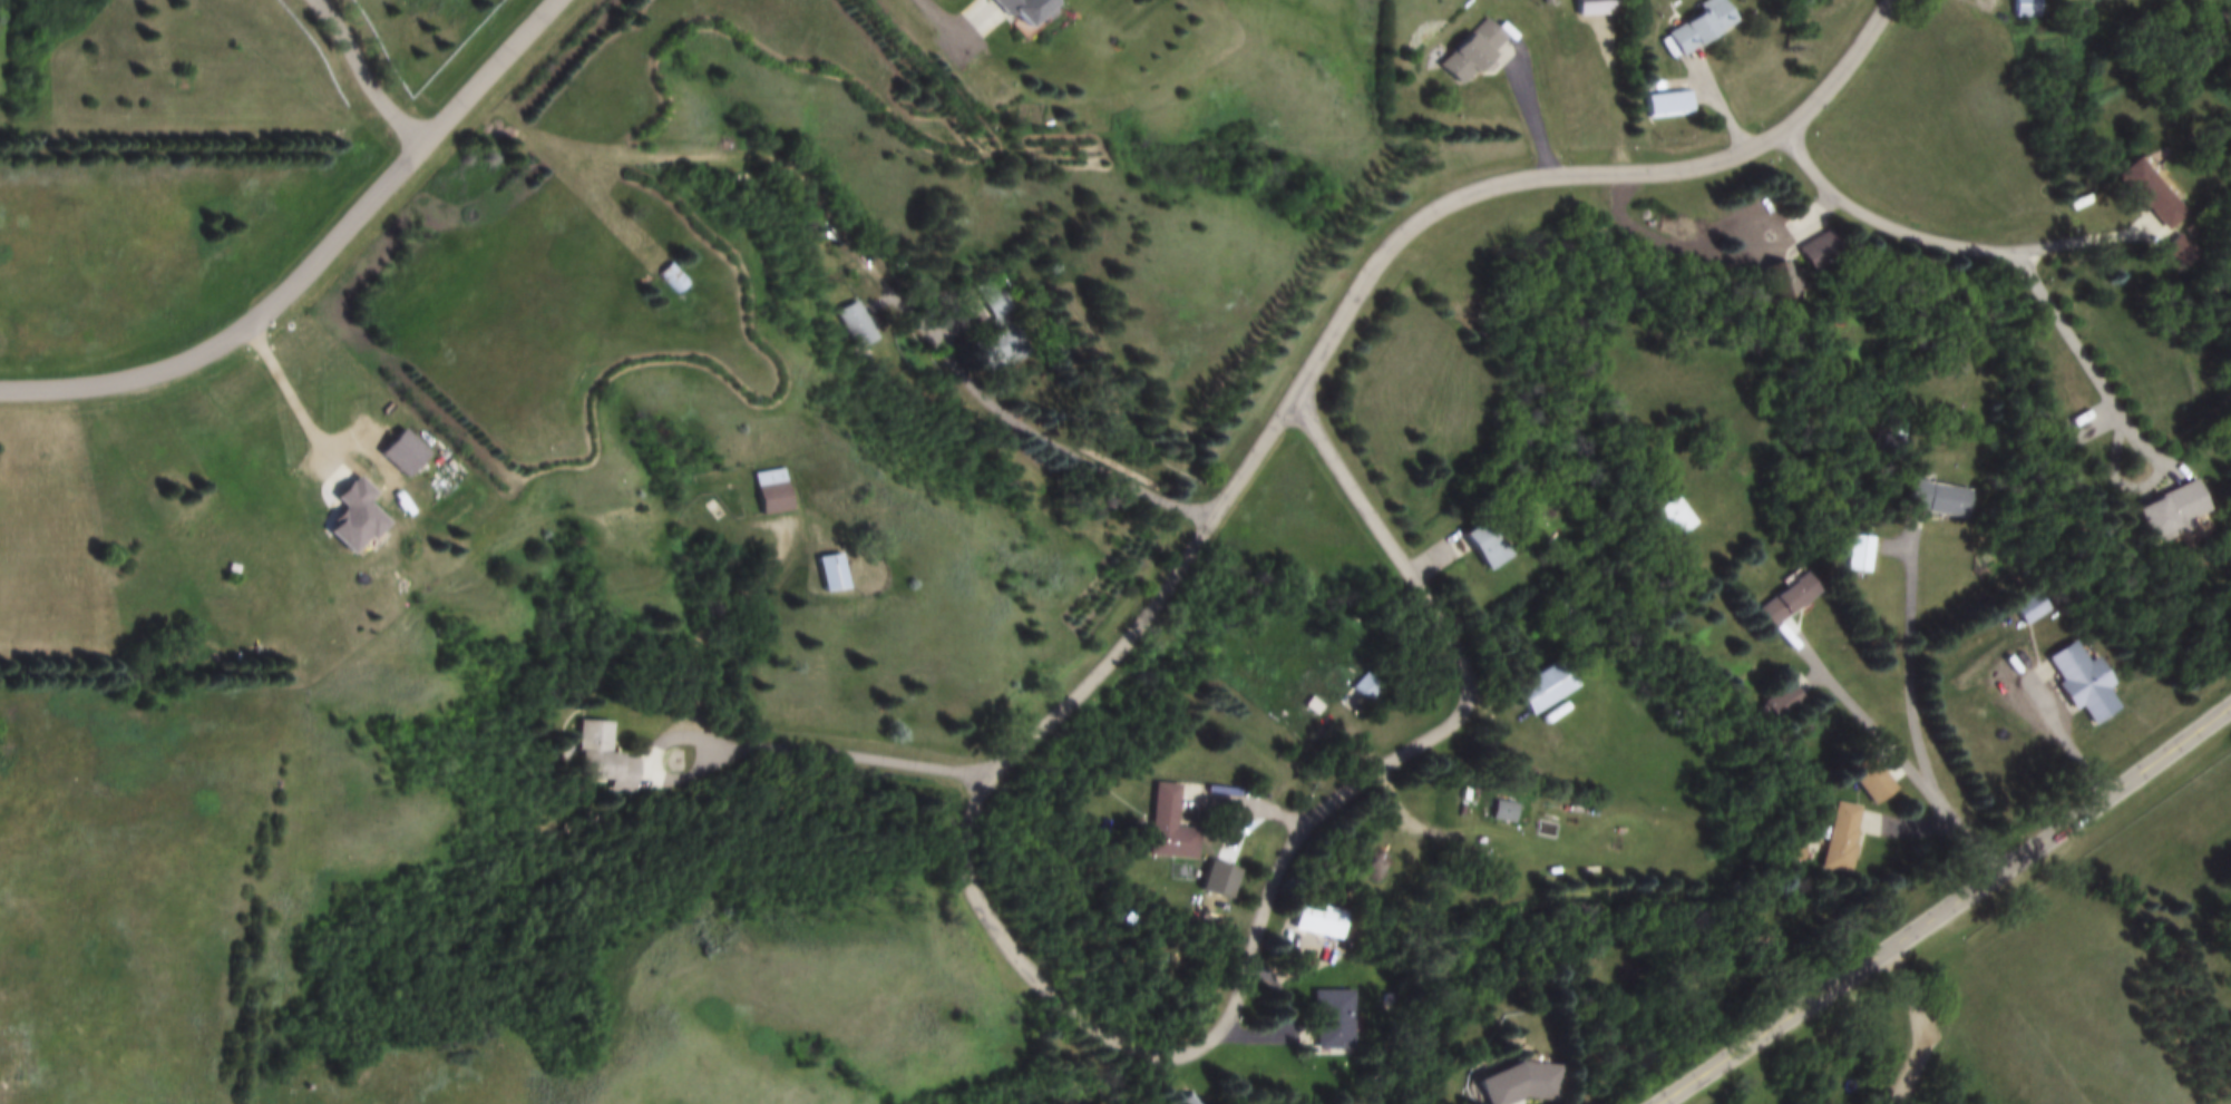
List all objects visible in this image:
road: (1989, 6)
building: (1605, 7)
building: (1039, 10)
building: (2033, 10)
road: (926, 13)
building: (1709, 25)
building: (1483, 52)
road: (371, 74)
building: (1676, 104)
road: (1533, 113)
road: (1580, 182)
building: (2162, 201)
road: (1880, 223)
road: (2083, 244)
building: (1828, 251)
road: (313, 260)
building: (691, 279)
building: (1782, 282)
building: (1004, 323)
building: (867, 325)
road: (1000, 392)
building: (791, 490)
building: (1942, 499)
building: (2172, 512)
building: (1683, 516)
building: (1491, 544)
building: (1861, 554)
building: (851, 571)
building: (1793, 599)
road: (715, 608)
building: (2032, 608)
road: (1909, 658)
building: (2077, 676)
building: (1368, 687)
building: (1550, 687)
building: (1786, 702)
building: (1315, 706)
road: (1890, 746)
road: (838, 752)
building: (606, 759)
road: (660, 779)
building: (1874, 781)
building: (1506, 813)
building: (1176, 827)
building: (1843, 840)
road: (1945, 908)
building: (1323, 920)
building: (1335, 1020)
road: (1915, 1023)
road: (1149, 1049)
building: (1522, 1086)
building: (1191, 1101)

